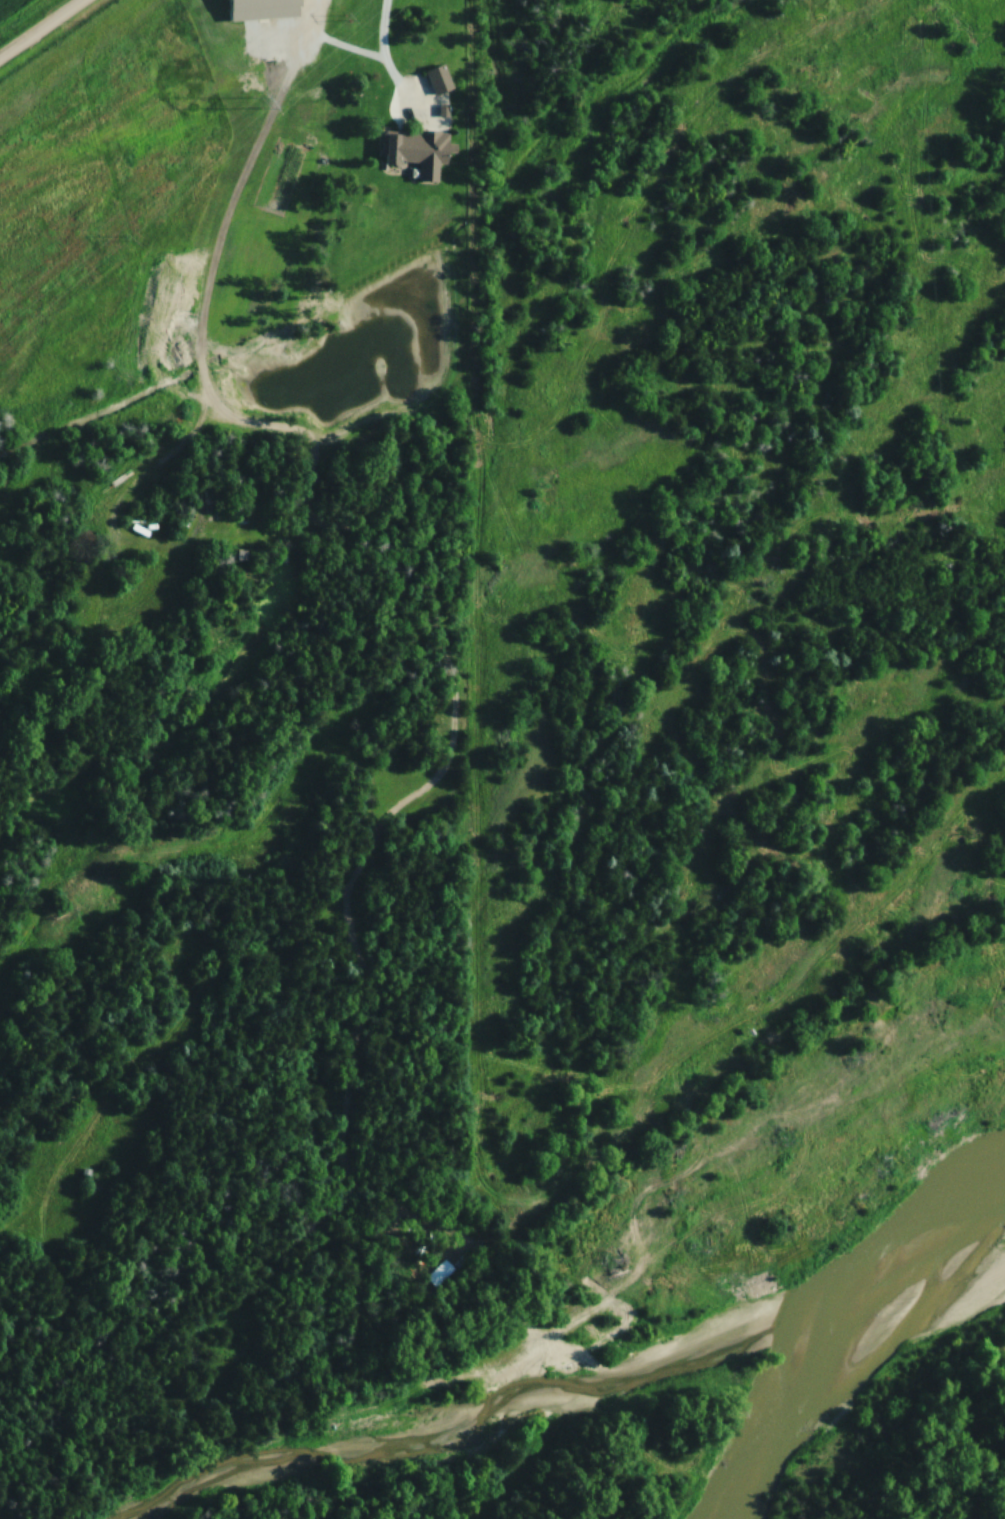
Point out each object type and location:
building: (252, 10)
road: (40, 28)
road: (382, 60)
building: (432, 80)
power tower: (255, 99)
building: (409, 150)
road: (239, 178)
building: (229, 554)
road: (175, 571)

